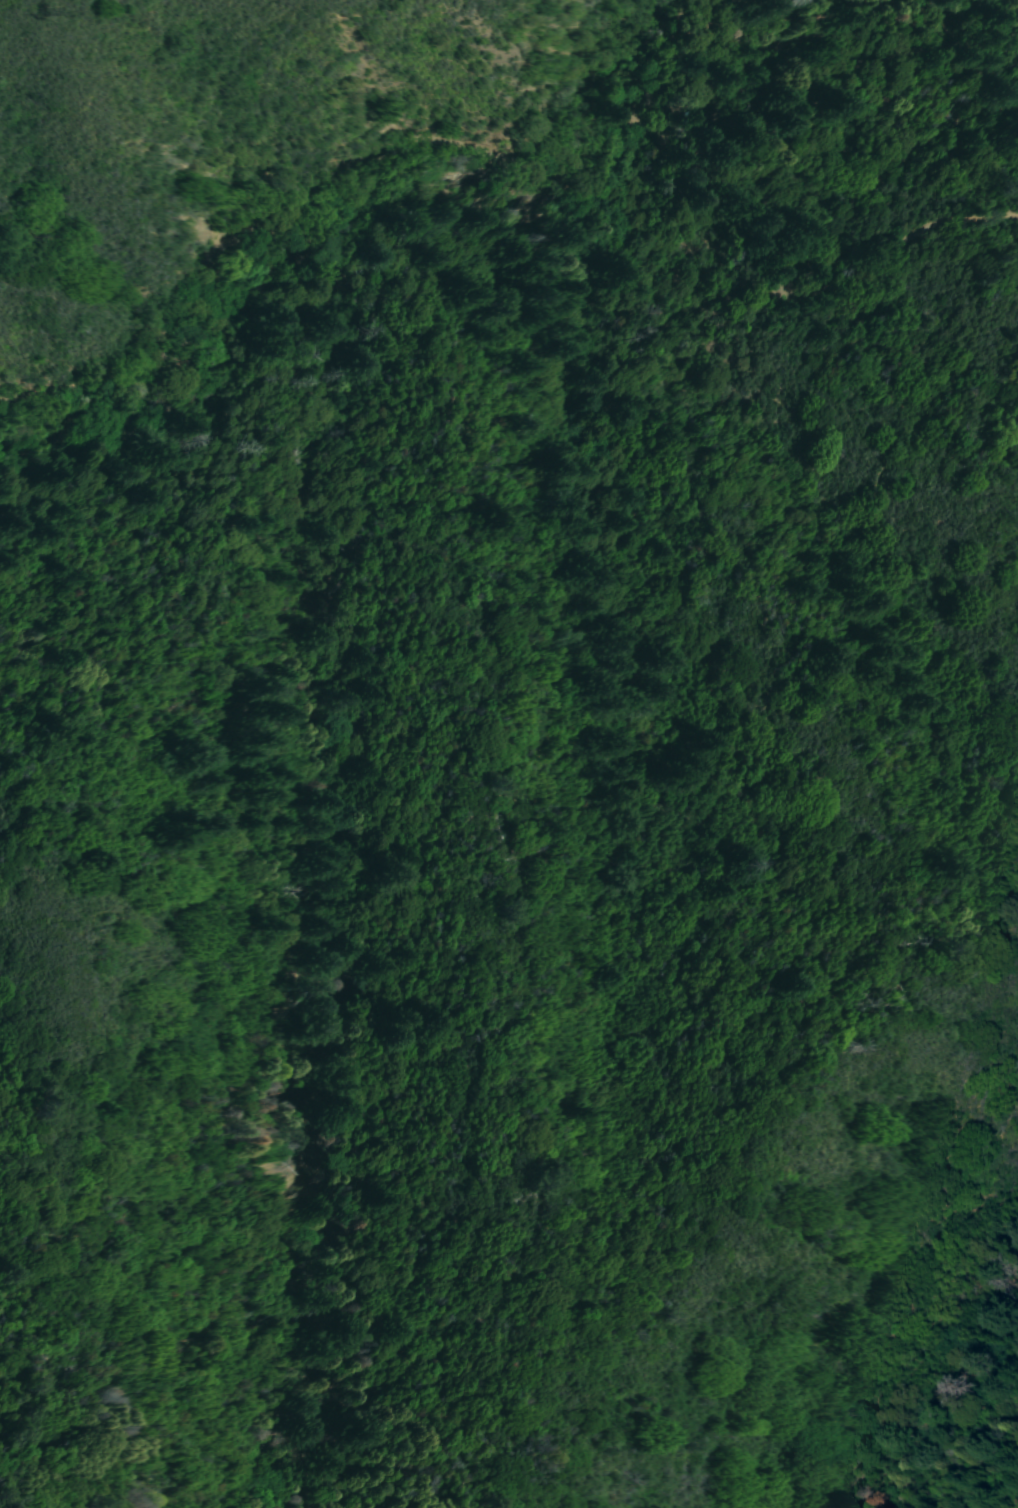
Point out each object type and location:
road: (758, 10)
road: (743, 21)
road: (669, 41)
road: (660, 74)
road: (771, 89)
road: (629, 114)
water tower: (706, 120)
road: (327, 196)
road: (421, 198)
road: (795, 277)
road: (189, 368)
road: (203, 369)
road: (186, 381)
road: (103, 439)
road: (878, 702)
road: (625, 946)
road: (359, 1080)

